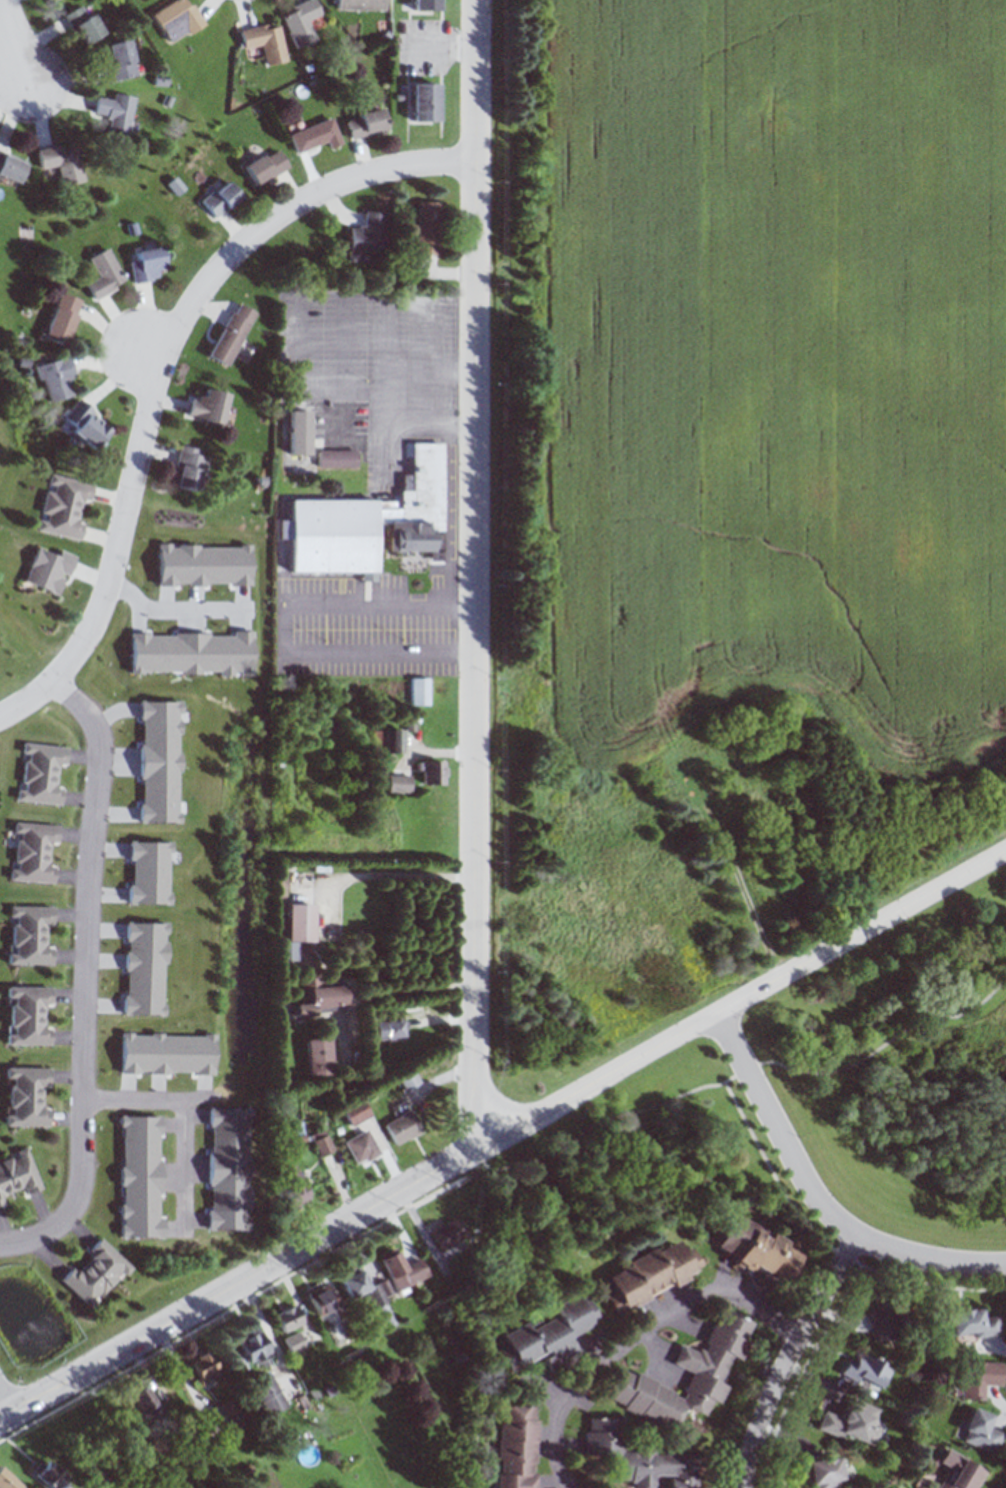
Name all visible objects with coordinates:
building: (360, 5)
building: (425, 5)
building: (177, 19)
building: (301, 22)
building: (83, 23)
building: (265, 40)
road: (9, 42)
building: (119, 60)
building: (424, 101)
building: (116, 112)
building: (366, 123)
building: (315, 135)
building: (63, 162)
building: (266, 165)
building: (11, 166)
building: (220, 198)
building: (428, 228)
building: (368, 236)
park: (37, 238)
building: (147, 264)
building: (105, 273)
building: (63, 318)
building: (232, 333)
road: (164, 364)
building: (57, 379)
building: (208, 405)
building: (87, 424)
building: (298, 431)
building: (337, 458)
building: (190, 468)
crop: (734, 494)
building: (64, 506)
building: (371, 522)
building: (50, 570)
road: (475, 574)
building: (419, 691)
building: (388, 740)
building: (433, 772)
building: (40, 773)
building: (399, 783)
building: (32, 852)
building: (300, 923)
building: (28, 934)
road: (90, 964)
road: (391, 989)
building: (322, 997)
road: (741, 999)
building: (27, 1015)
building: (391, 1030)
building: (318, 1057)
park: (903, 1070)
building: (408, 1080)
building: (26, 1096)
building: (355, 1112)
building: (402, 1127)
building: (361, 1147)
road: (496, 1170)
building: (18, 1174)
building: (291, 1186)
road: (819, 1193)
building: (447, 1233)
road: (826, 1241)
building: (757, 1249)
building: (402, 1269)
building: (96, 1273)
building: (651, 1275)
road: (238, 1285)
building: (364, 1287)
building: (320, 1299)
building: (288, 1318)
building: (888, 1321)
building: (970, 1322)
building: (549, 1336)
road: (638, 1336)
building: (294, 1342)
building: (251, 1345)
road: (792, 1355)
building: (204, 1366)
building: (703, 1367)
building: (866, 1371)
building: (978, 1378)
building: (268, 1394)
building: (143, 1401)
building: (233, 1413)
road: (2, 1414)
building: (852, 1423)
building: (979, 1432)
building: (517, 1447)
building: (639, 1457)
building: (819, 1471)
building: (958, 1471)
building: (46, 1473)
building: (7, 1481)

